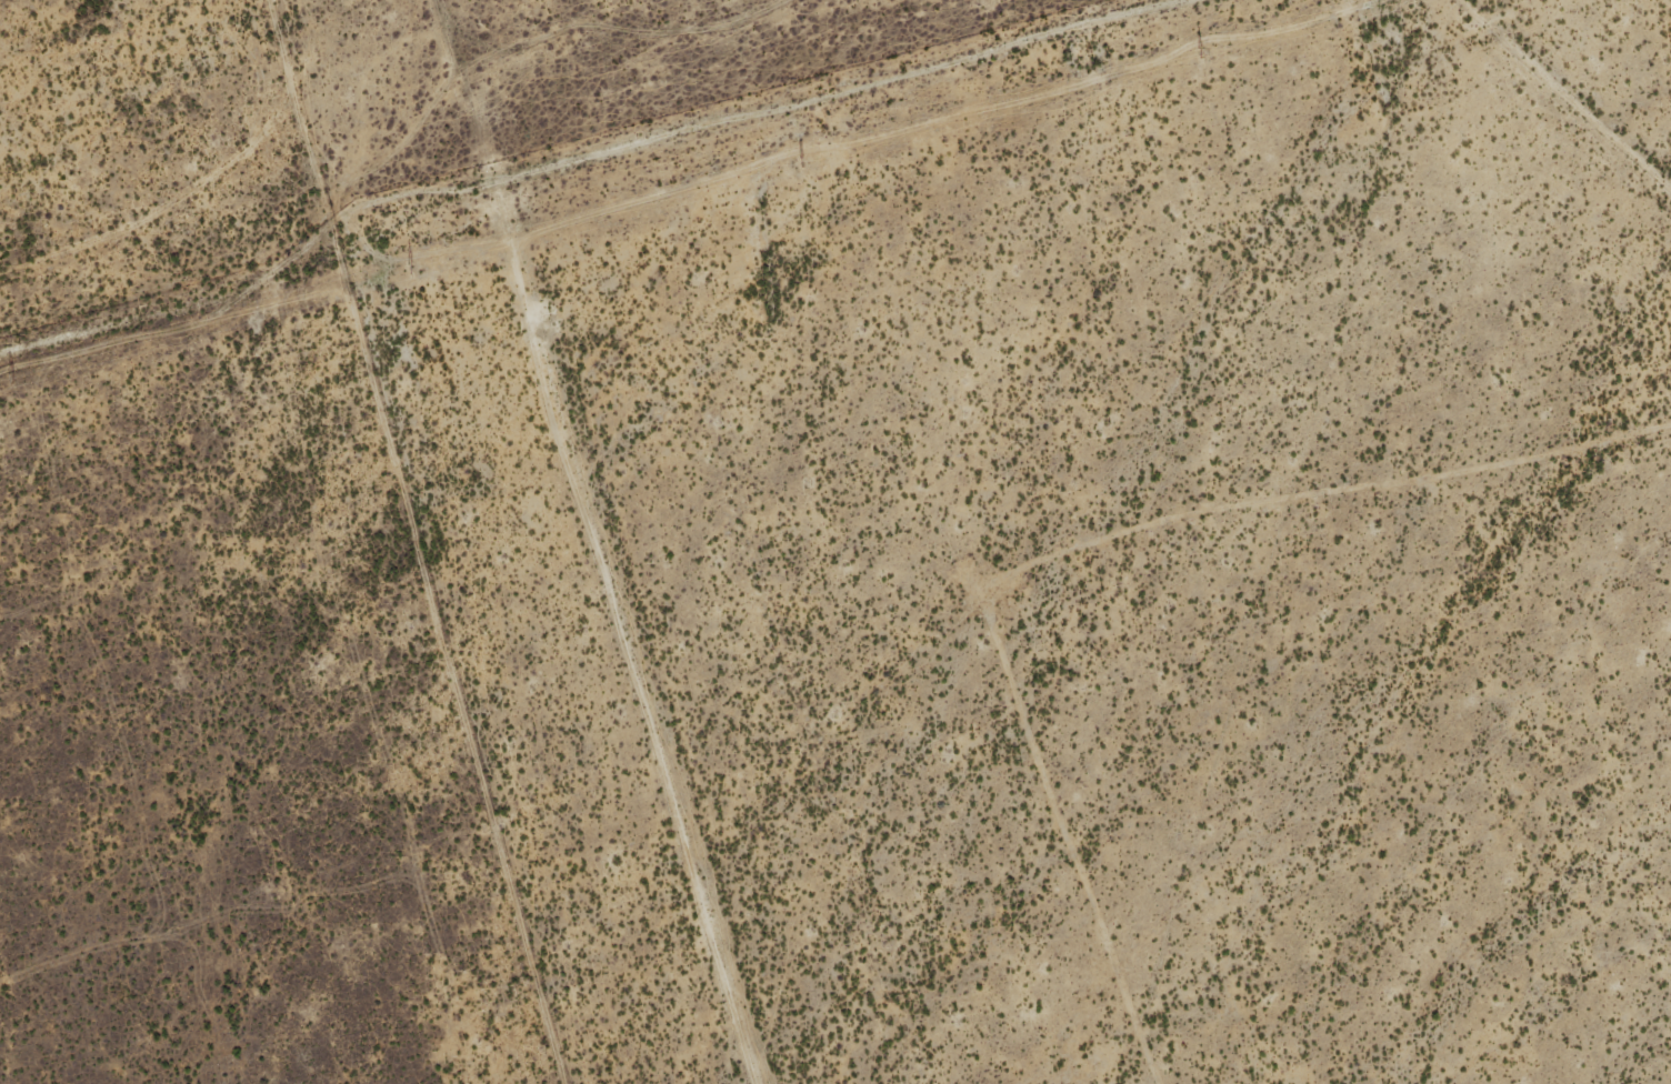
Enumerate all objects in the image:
power tower: (1199, 51)
power tower: (800, 162)
power tower: (410, 269)
power tower: (11, 378)

